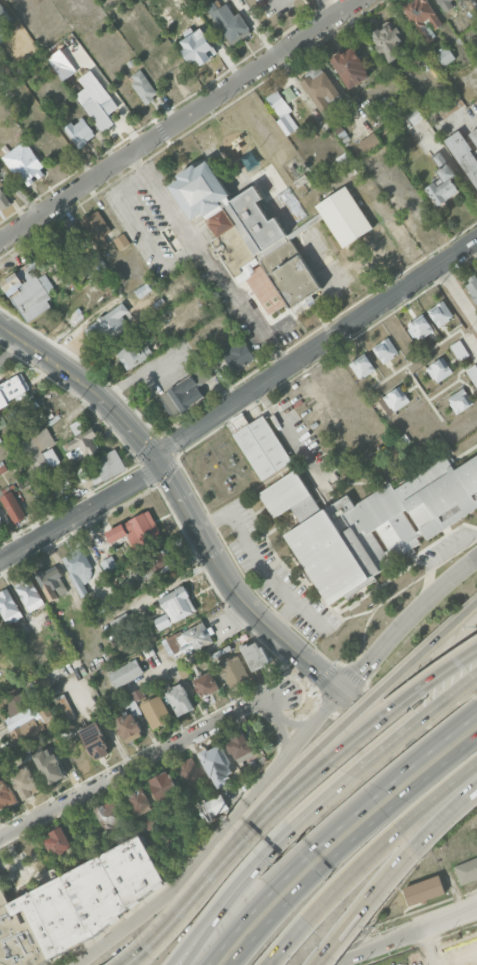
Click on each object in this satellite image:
road: (281, 0)
building: (445, 4)
road: (327, 8)
building: (4, 15)
building: (165, 16)
building: (422, 16)
building: (229, 20)
building: (389, 40)
building: (198, 46)
building: (445, 55)
building: (61, 63)
building: (351, 65)
building: (143, 85)
building: (321, 88)
building: (288, 93)
building: (96, 99)
building: (282, 111)
building: (414, 116)
road: (179, 120)
building: (79, 130)
building: (474, 134)
building: (369, 141)
building: (464, 153)
building: (342, 160)
building: (24, 162)
building: (443, 180)
road: (20, 192)
building: (4, 199)
building: (344, 216)
building: (420, 216)
building: (96, 227)
road: (143, 229)
building: (246, 230)
building: (121, 241)
building: (318, 245)
building: (40, 247)
building: (68, 247)
road: (208, 260)
building: (351, 274)
building: (473, 287)
building: (28, 289)
building: (143, 290)
road: (458, 292)
building: (441, 312)
building: (109, 321)
building: (421, 325)
road: (277, 328)
road: (315, 347)
building: (385, 349)
building: (459, 350)
building: (133, 351)
building: (239, 355)
building: (362, 365)
building: (439, 369)
building: (473, 374)
road: (135, 377)
road: (87, 385)
building: (11, 388)
building: (186, 391)
building: (396, 398)
building: (460, 399)
building: (23, 406)
road: (285, 425)
building: (83, 443)
building: (263, 447)
building: (38, 449)
traffic signals: (159, 461)
building: (109, 463)
building: (56, 490)
building: (13, 505)
road: (82, 514)
building: (0, 516)
building: (370, 522)
building: (0, 523)
building: (137, 531)
building: (156, 562)
building: (109, 564)
road: (260, 564)
building: (77, 567)
building: (51, 582)
building: (30, 593)
building: (177, 603)
building: (104, 605)
building: (8, 606)
road: (282, 614)
road: (405, 621)
building: (188, 639)
road: (287, 644)
building: (256, 655)
building: (233, 670)
building: (126, 673)
building: (207, 684)
traffic signals: (341, 692)
building: (32, 693)
building: (139, 694)
building: (14, 700)
building: (180, 700)
building: (156, 711)
road: (476, 712)
road: (476, 712)
road: (427, 713)
road: (347, 719)
building: (34, 725)
building: (130, 727)
building: (96, 740)
building: (239, 744)
road: (154, 755)
building: (215, 761)
building: (50, 765)
building: (189, 772)
building: (26, 781)
building: (164, 785)
building: (6, 795)
road: (290, 795)
building: (139, 798)
building: (211, 806)
building: (112, 815)
building: (147, 825)
road: (334, 831)
road: (219, 835)
building: (59, 841)
road: (345, 843)
road: (264, 850)
road: (272, 851)
road: (365, 857)
parking lot: (308, 858)
road: (391, 870)
building: (466, 871)
building: (424, 890)
building: (73, 903)
road: (475, 908)
road: (475, 908)
road: (405, 936)
track: (443, 954)

